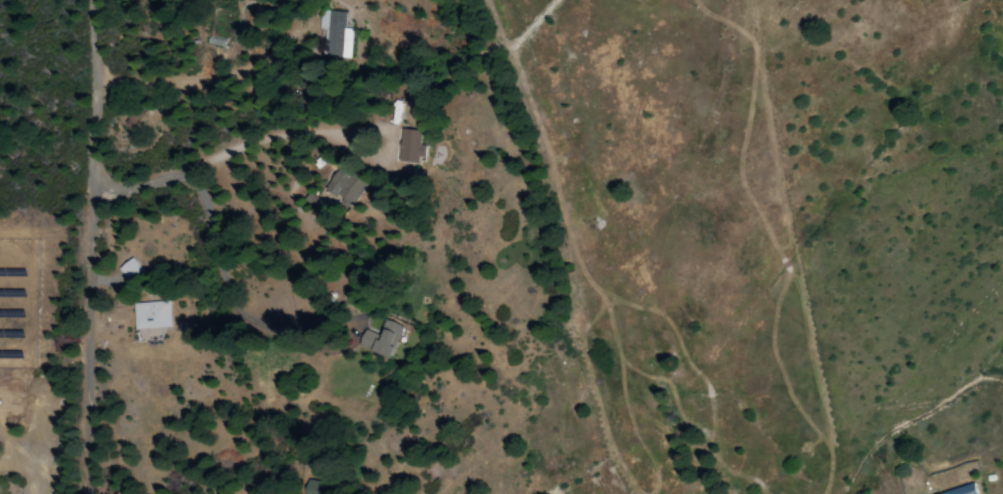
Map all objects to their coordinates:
building: (335, 35)
building: (409, 147)
building: (343, 188)
road: (578, 218)
road: (188, 229)
road: (93, 247)
building: (128, 270)
building: (150, 316)
building: (380, 340)
building: (313, 487)
building: (961, 490)

